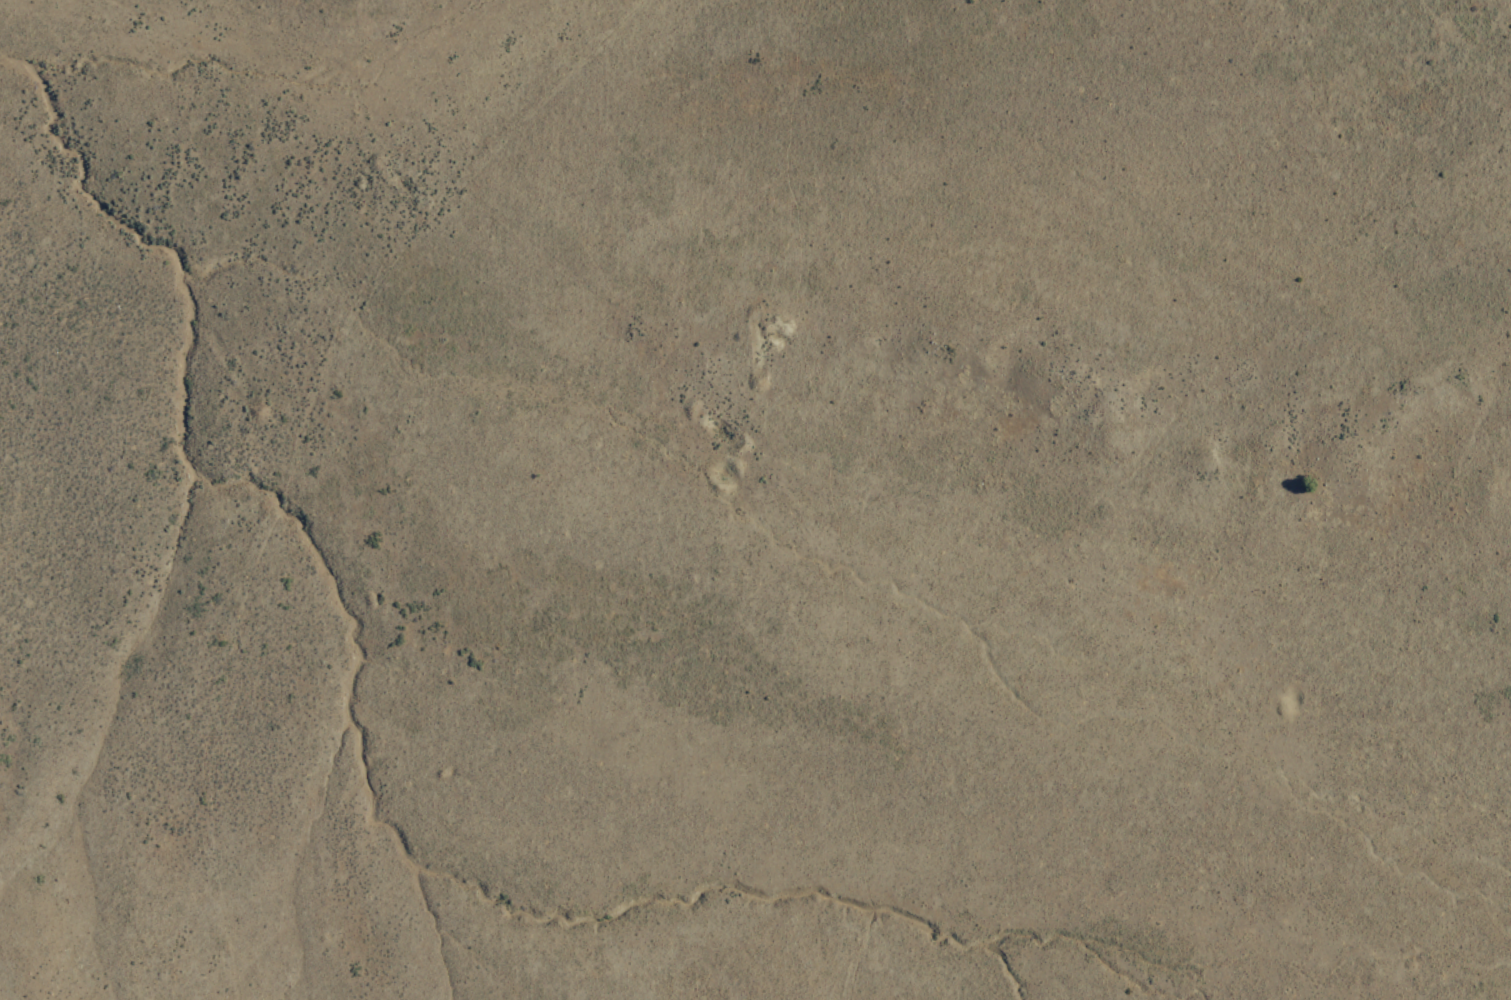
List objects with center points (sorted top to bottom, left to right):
crop: (434, 517)

